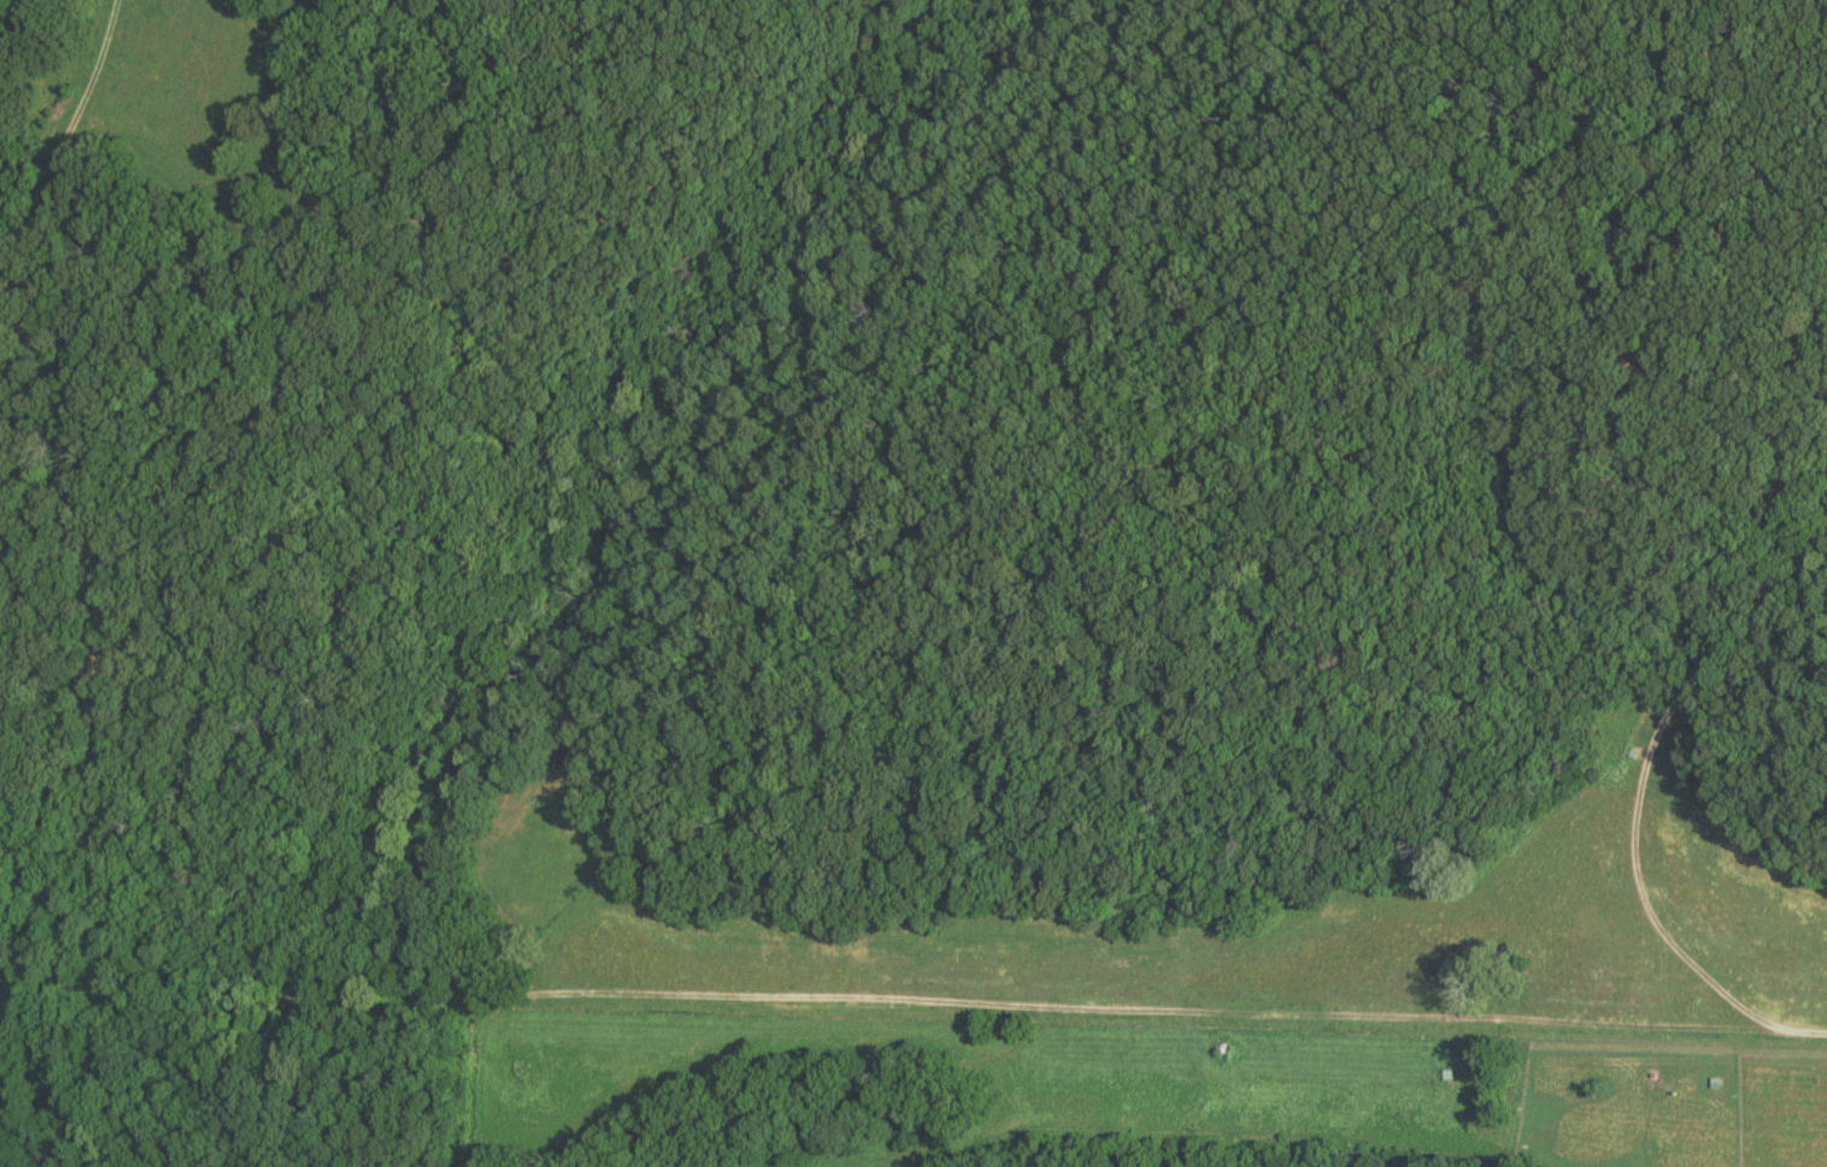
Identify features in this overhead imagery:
road: (1144, 1010)

